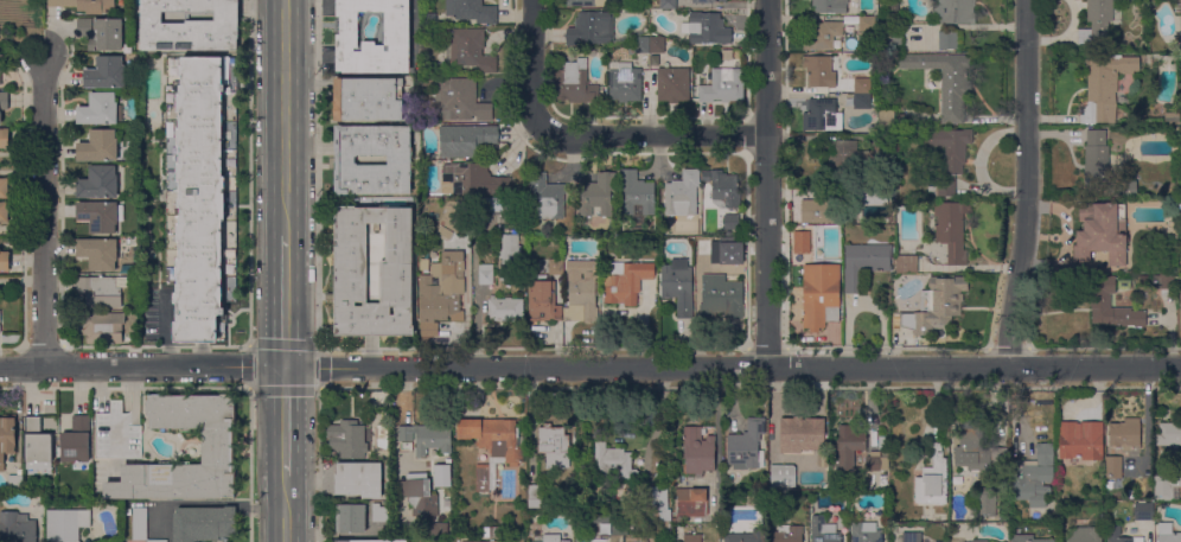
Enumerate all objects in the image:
building: (707, 1)
building: (586, 2)
building: (668, 4)
building: (84, 5)
building: (829, 6)
building: (1177, 6)
building: (894, 8)
building: (471, 11)
building: (953, 12)
building: (430, 18)
building: (1098, 23)
building: (866, 24)
building: (190, 25)
building: (706, 28)
building: (590, 30)
building: (102, 33)
building: (1180, 34)
building: (823, 36)
building: (396, 38)
building: (895, 39)
building: (947, 40)
building: (641, 46)
building: (657, 46)
building: (470, 51)
road: (531, 66)
building: (821, 71)
building: (106, 74)
building: (945, 81)
building: (575, 83)
building: (624, 83)
building: (672, 84)
building: (723, 85)
building: (862, 85)
building: (1104, 87)
building: (366, 98)
building: (457, 101)
building: (863, 101)
building: (2, 103)
building: (100, 109)
building: (822, 115)
road: (285, 117)
building: (886, 117)
building: (1172, 117)
road: (656, 134)
building: (4, 138)
building: (465, 140)
building: (98, 146)
building: (947, 146)
building: (398, 159)
building: (858, 159)
building: (1096, 164)
building: (472, 180)
building: (97, 183)
road: (767, 184)
road: (1026, 184)
building: (940, 186)
building: (4, 189)
building: (723, 189)
building: (202, 192)
building: (636, 195)
building: (682, 195)
building: (596, 196)
building: (880, 197)
building: (545, 198)
building: (845, 198)
building: (900, 204)
building: (1179, 204)
building: (498, 206)
building: (812, 210)
road: (43, 211)
building: (4, 212)
building: (100, 216)
building: (454, 217)
building: (732, 223)
building: (951, 229)
building: (445, 232)
building: (1100, 232)
building: (802, 242)
building: (704, 246)
building: (509, 249)
building: (732, 249)
building: (98, 253)
building: (5, 261)
building: (864, 263)
building: (906, 263)
building: (555, 267)
building: (485, 274)
building: (511, 275)
building: (1143, 280)
building: (1167, 280)
building: (396, 282)
building: (625, 282)
building: (1123, 285)
building: (441, 287)
building: (677, 287)
building: (581, 288)
building: (102, 291)
building: (819, 295)
building: (1180, 296)
building: (542, 298)
building: (721, 298)
building: (1100, 300)
road: (285, 302)
building: (936, 305)
building: (504, 308)
building: (101, 327)
building: (426, 340)
road: (142, 369)
road: (733, 369)
road: (248, 387)
road: (286, 423)
building: (1125, 433)
building: (1169, 433)
building: (116, 434)
building: (800, 434)
building: (7, 436)
building: (423, 438)
building: (969, 438)
building: (346, 439)
building: (76, 440)
building: (1079, 442)
building: (37, 445)
building: (492, 445)
building: (217, 446)
building: (554, 446)
building: (746, 446)
building: (848, 446)
building: (697, 452)
building: (996, 455)
building: (613, 461)
building: (873, 464)
road: (249, 465)
building: (1113, 467)
building: (781, 471)
building: (440, 474)
building: (1033, 477)
building: (357, 479)
building: (932, 479)
building: (14, 480)
building: (1166, 486)
building: (960, 493)
building: (1130, 493)
building: (51, 497)
building: (419, 497)
building: (79, 498)
building: (535, 498)
road: (206, 502)
building: (690, 502)
building: (985, 502)
road: (286, 509)
building: (662, 510)
building: (1143, 511)
building: (378, 512)
building: (350, 518)
building: (612, 521)
building: (202, 523)
building: (65, 524)
building: (140, 524)
building: (436, 525)
building: (15, 528)
building: (823, 530)
building: (493, 531)
building: (1113, 531)
building: (864, 533)
building: (1166, 533)
building: (787, 534)
building: (1085, 535)
building: (746, 536)
building: (691, 537)
building: (911, 537)
building: (548, 538)
building: (1027, 538)
building: (509, 540)
building: (370, 541)
building: (486, 541)
building: (530, 541)
building: (979, 541)

